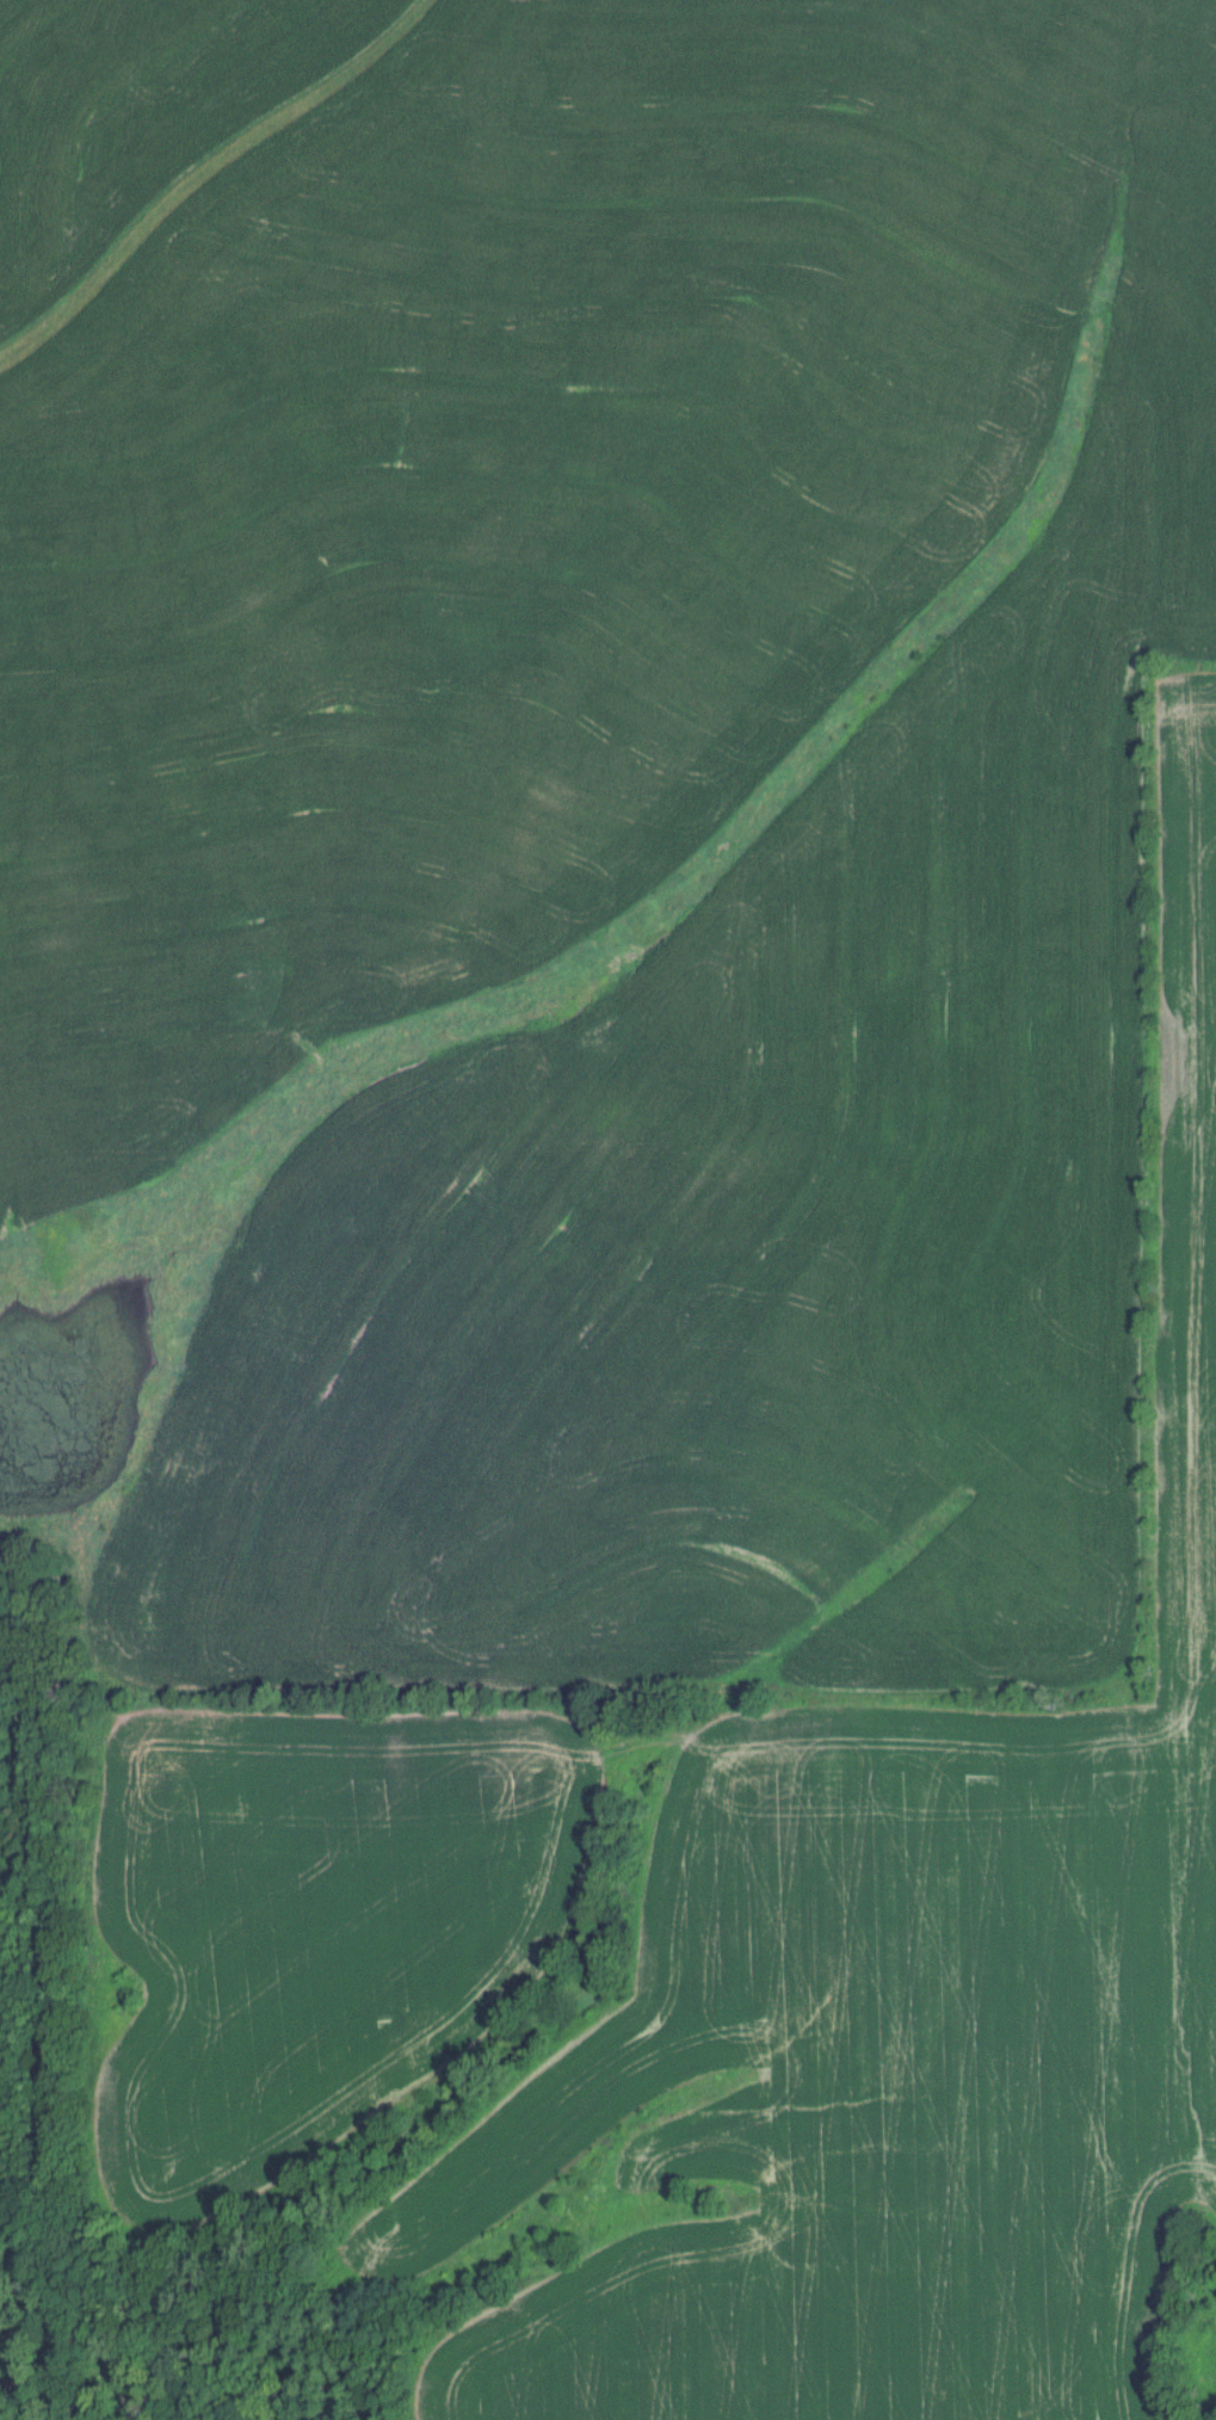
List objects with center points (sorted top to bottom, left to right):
crop: (754, 1193)

